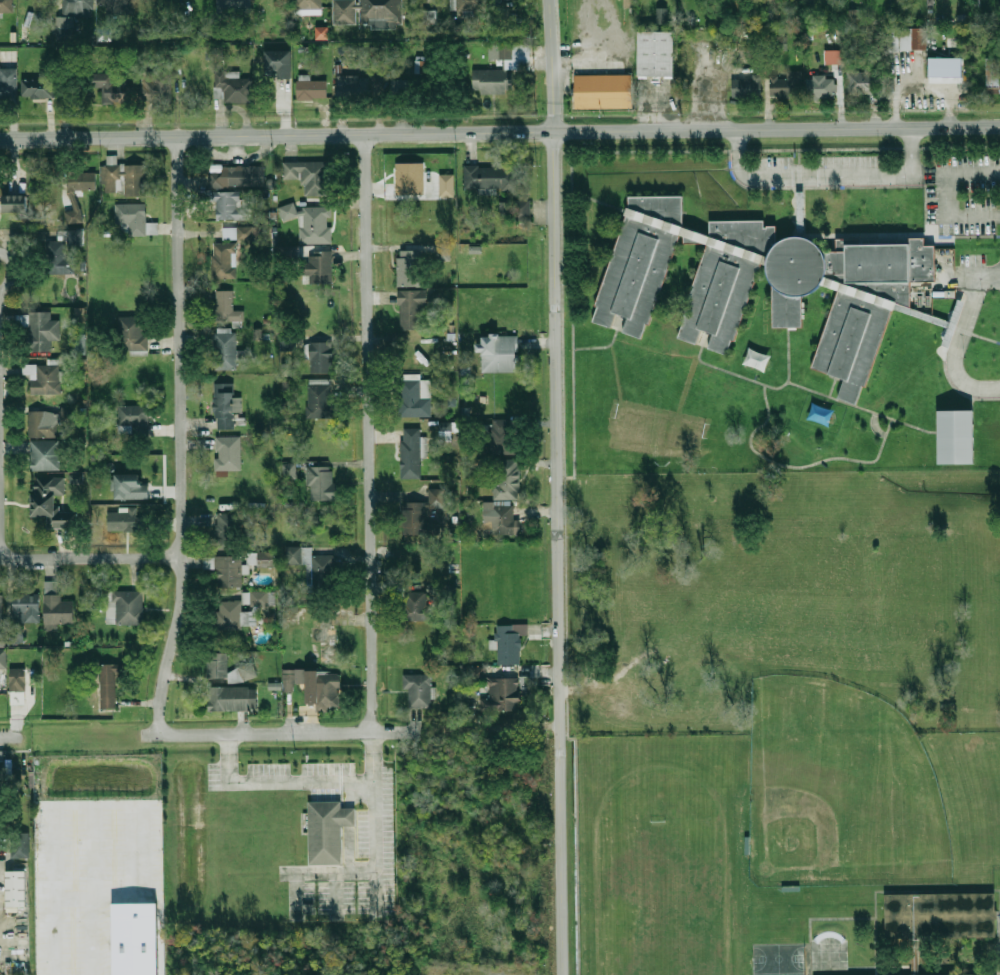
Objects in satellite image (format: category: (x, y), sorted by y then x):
building: (627, 1)
building: (115, 4)
building: (308, 4)
building: (234, 5)
building: (471, 5)
building: (7, 6)
building: (78, 8)
building: (367, 13)
building: (852, 15)
building: (661, 16)
building: (429, 17)
building: (456, 28)
building: (321, 33)
building: (104, 34)
building: (876, 37)
building: (907, 39)
building: (509, 52)
building: (657, 53)
building: (833, 57)
building: (279, 63)
building: (946, 67)
building: (993, 72)
building: (160, 79)
building: (105, 81)
building: (8, 82)
building: (488, 82)
building: (864, 82)
building: (347, 84)
building: (786, 84)
building: (746, 86)
building: (38, 87)
building: (232, 87)
building: (821, 88)
building: (313, 90)
building: (604, 91)
road: (499, 131)
road: (956, 173)
road: (826, 174)
building: (309, 175)
building: (236, 177)
building: (490, 177)
building: (123, 179)
building: (409, 179)
building: (78, 191)
building: (1, 192)
building: (15, 203)
building: (229, 206)
building: (505, 209)
building: (522, 210)
road: (951, 215)
building: (134, 219)
building: (311, 223)
building: (244, 232)
building: (229, 234)
building: (63, 251)
building: (443, 252)
building: (224, 261)
building: (321, 268)
building: (408, 268)
building: (872, 299)
building: (226, 307)
building: (412, 310)
building: (79, 314)
building: (36, 330)
building: (132, 333)
road: (959, 338)
building: (79, 342)
building: (225, 351)
building: (500, 353)
building: (320, 358)
building: (43, 379)
building: (415, 398)
building: (319, 400)
building: (224, 407)
building: (134, 417)
building: (43, 425)
building: (443, 426)
road: (372, 431)
road: (181, 435)
building: (503, 436)
building: (957, 438)
building: (410, 453)
building: (228, 454)
building: (44, 455)
building: (290, 471)
building: (75, 478)
building: (506, 479)
building: (322, 484)
building: (129, 487)
road: (559, 487)
building: (436, 495)
building: (51, 504)
road: (1, 512)
building: (414, 518)
building: (127, 520)
building: (503, 521)
building: (228, 531)
road: (91, 558)
building: (265, 559)
building: (314, 567)
building: (226, 570)
building: (259, 598)
building: (416, 606)
building: (1, 607)
building: (57, 607)
building: (125, 607)
building: (26, 608)
building: (228, 616)
building: (2, 640)
building: (508, 644)
building: (2, 659)
building: (214, 669)
building: (292, 678)
building: (18, 683)
building: (109, 686)
building: (322, 688)
building: (418, 690)
building: (498, 692)
building: (232, 698)
building: (16, 706)
road: (282, 731)
road: (6, 738)
building: (6, 771)
road: (282, 776)
park: (839, 789)
road: (378, 812)
building: (328, 831)
building: (21, 845)
park: (663, 877)
building: (16, 888)
track: (733, 898)
building: (940, 915)
building: (135, 939)
park: (778, 958)
building: (935, 974)

